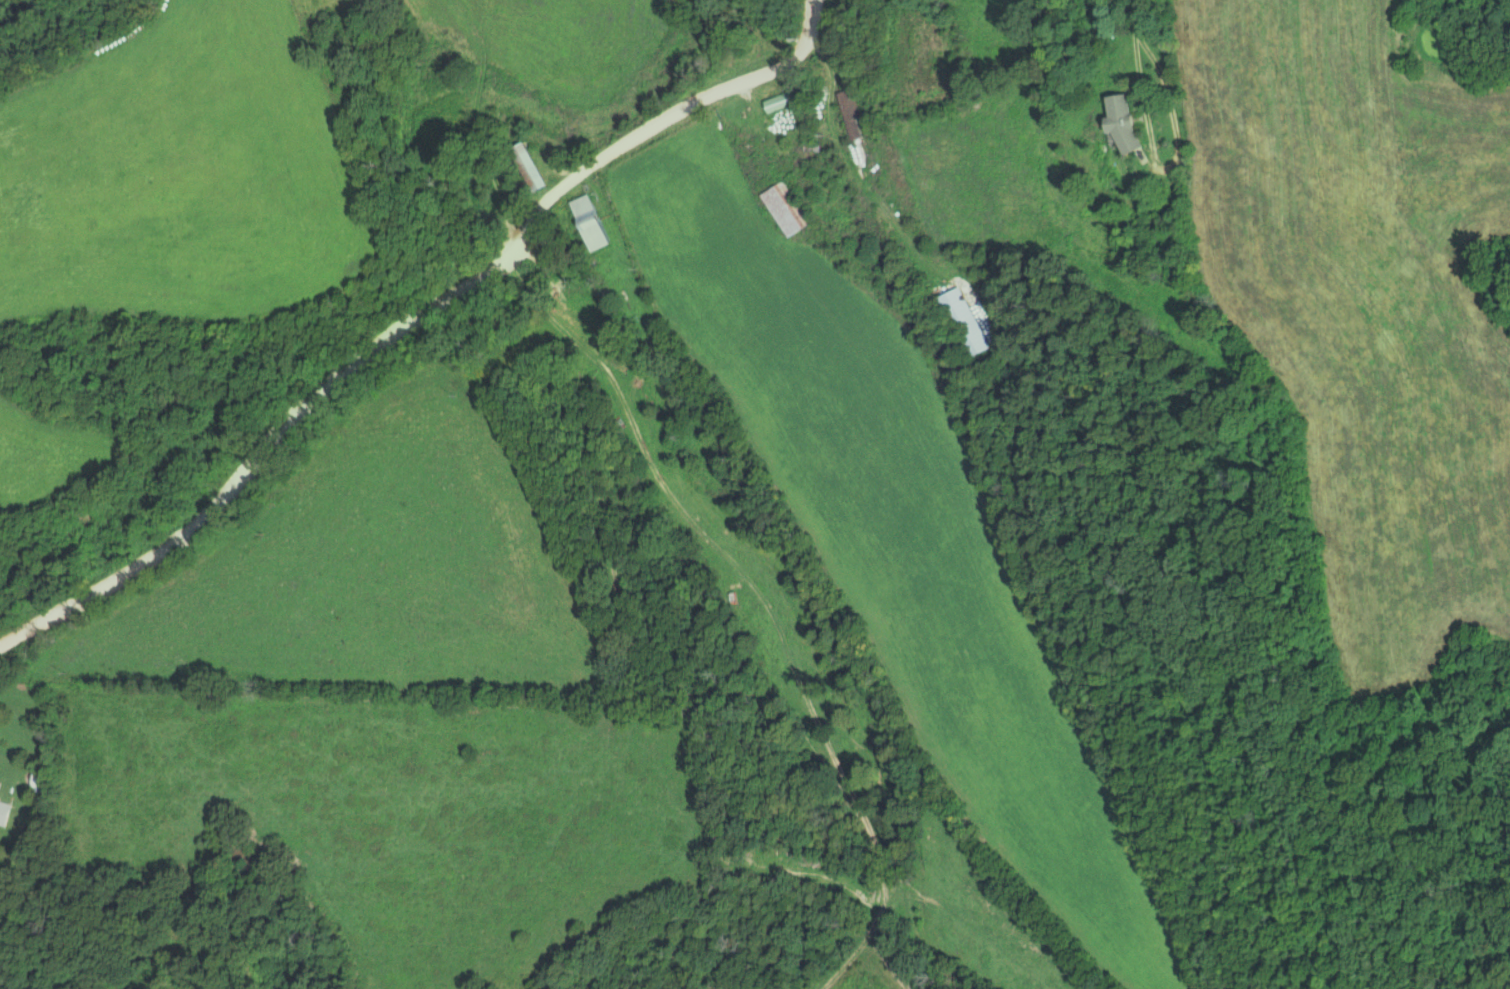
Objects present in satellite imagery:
road: (1133, 18)
building: (1125, 122)
road: (1156, 145)
road: (847, 167)
building: (595, 222)
road: (413, 317)
building: (964, 321)

